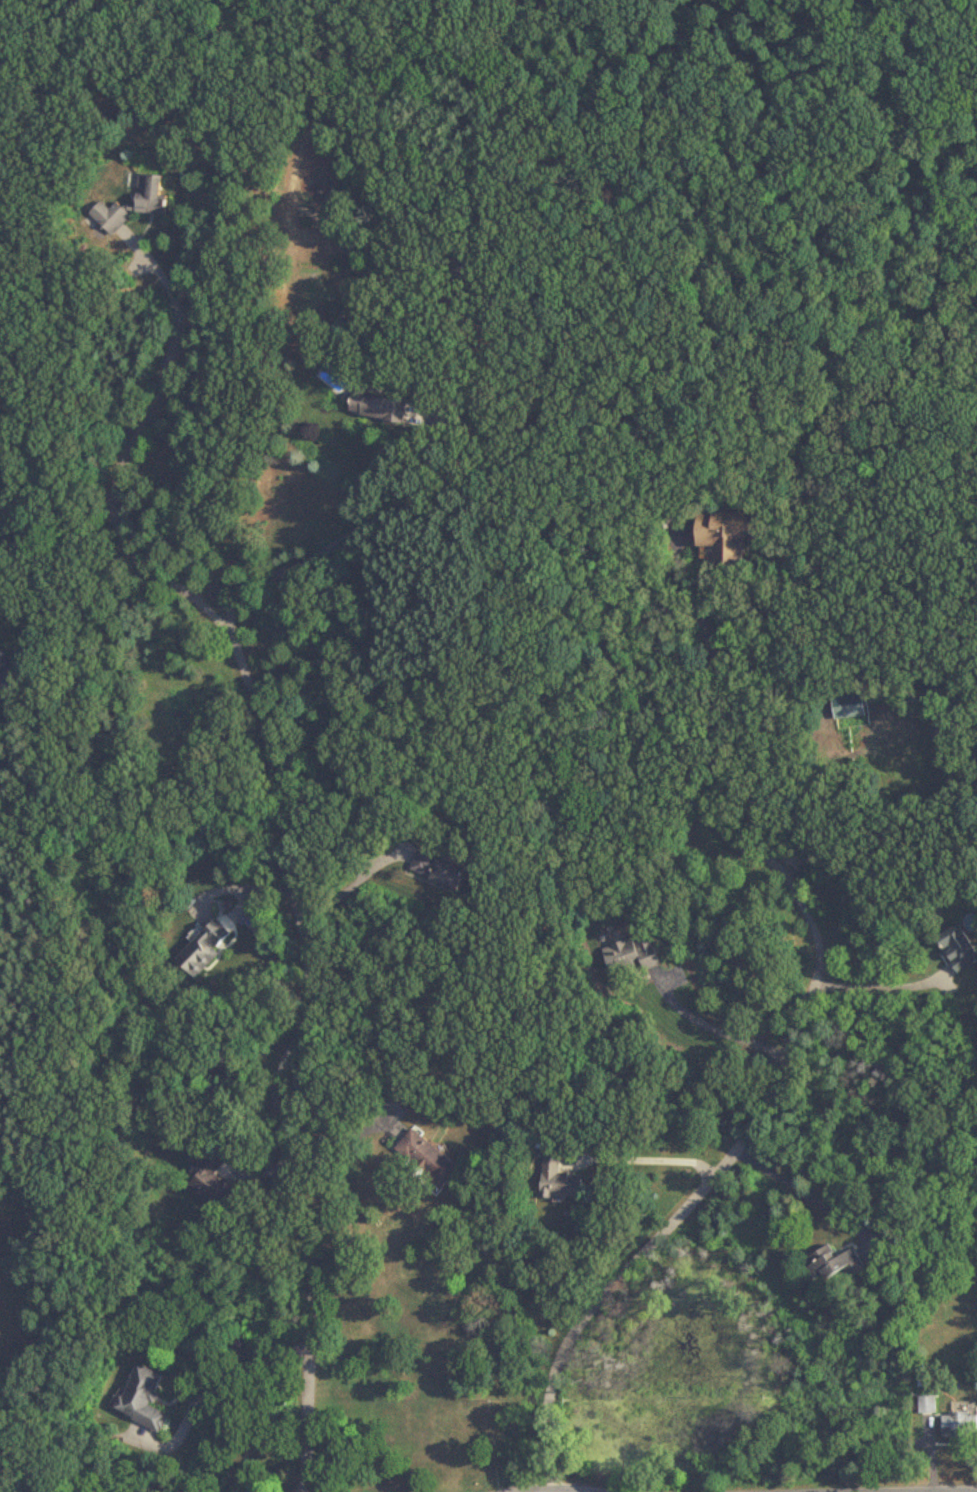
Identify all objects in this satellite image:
building: (151, 205)
building: (464, 262)
building: (376, 405)
road: (134, 442)
road: (367, 528)
building: (724, 537)
building: (1, 665)
building: (850, 708)
road: (716, 761)
building: (437, 872)
road: (347, 888)
building: (958, 949)
building: (204, 951)
building: (632, 956)
road: (878, 982)
road: (712, 1027)
road: (288, 1051)
road: (343, 1144)
road: (653, 1155)
building: (425, 1159)
building: (557, 1178)
building: (211, 1181)
road: (805, 1188)
road: (664, 1228)
building: (834, 1266)
road: (214, 1389)
building: (142, 1399)
building: (927, 1406)
building: (959, 1427)

